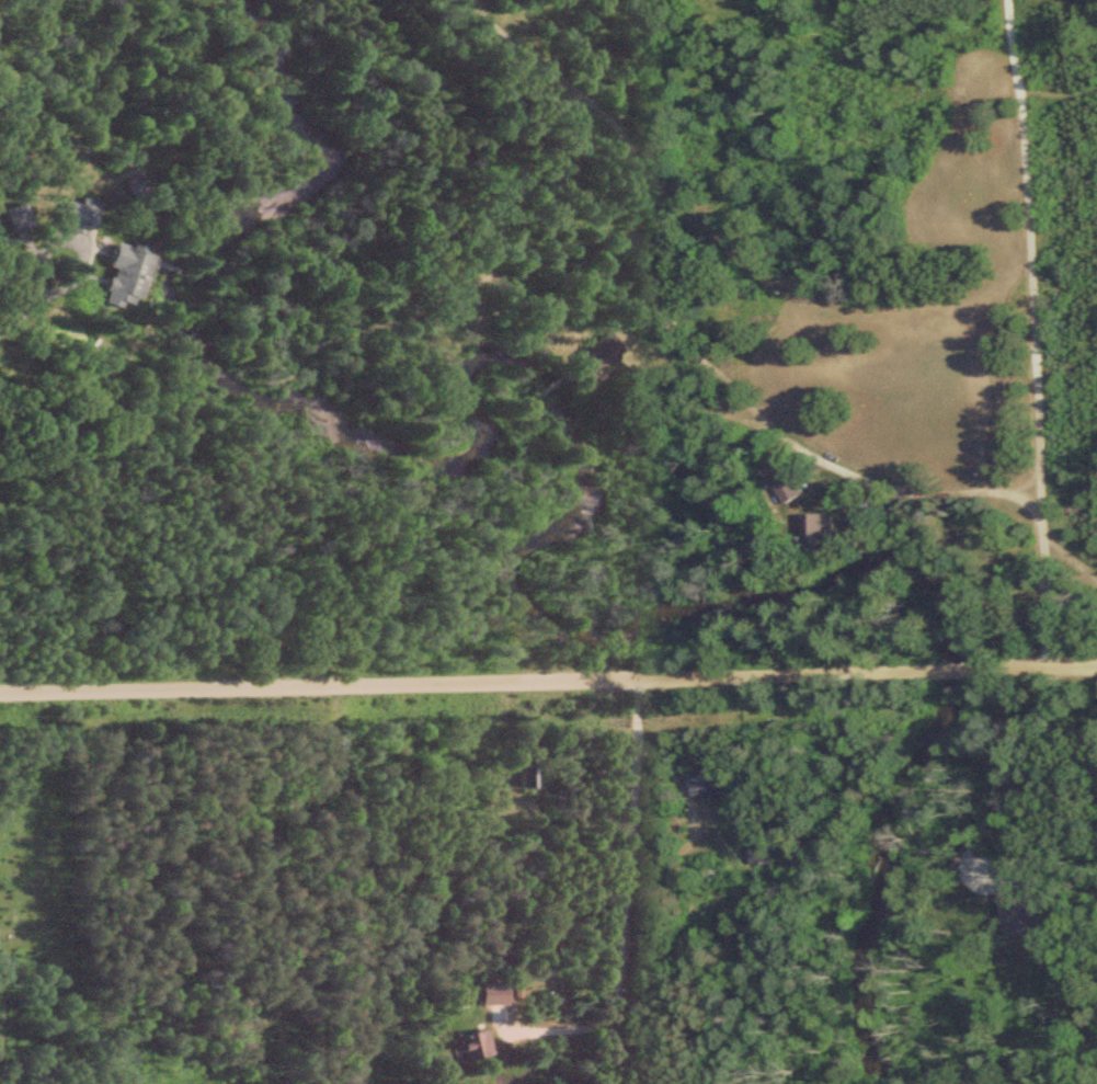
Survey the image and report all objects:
building: (79, 212)
building: (118, 274)
road: (1033, 330)
road: (624, 369)
river: (593, 493)
road: (1037, 661)
road: (947, 669)
road: (457, 676)
building: (525, 776)
building: (759, 853)
building: (513, 988)
building: (490, 993)
building: (470, 1045)

